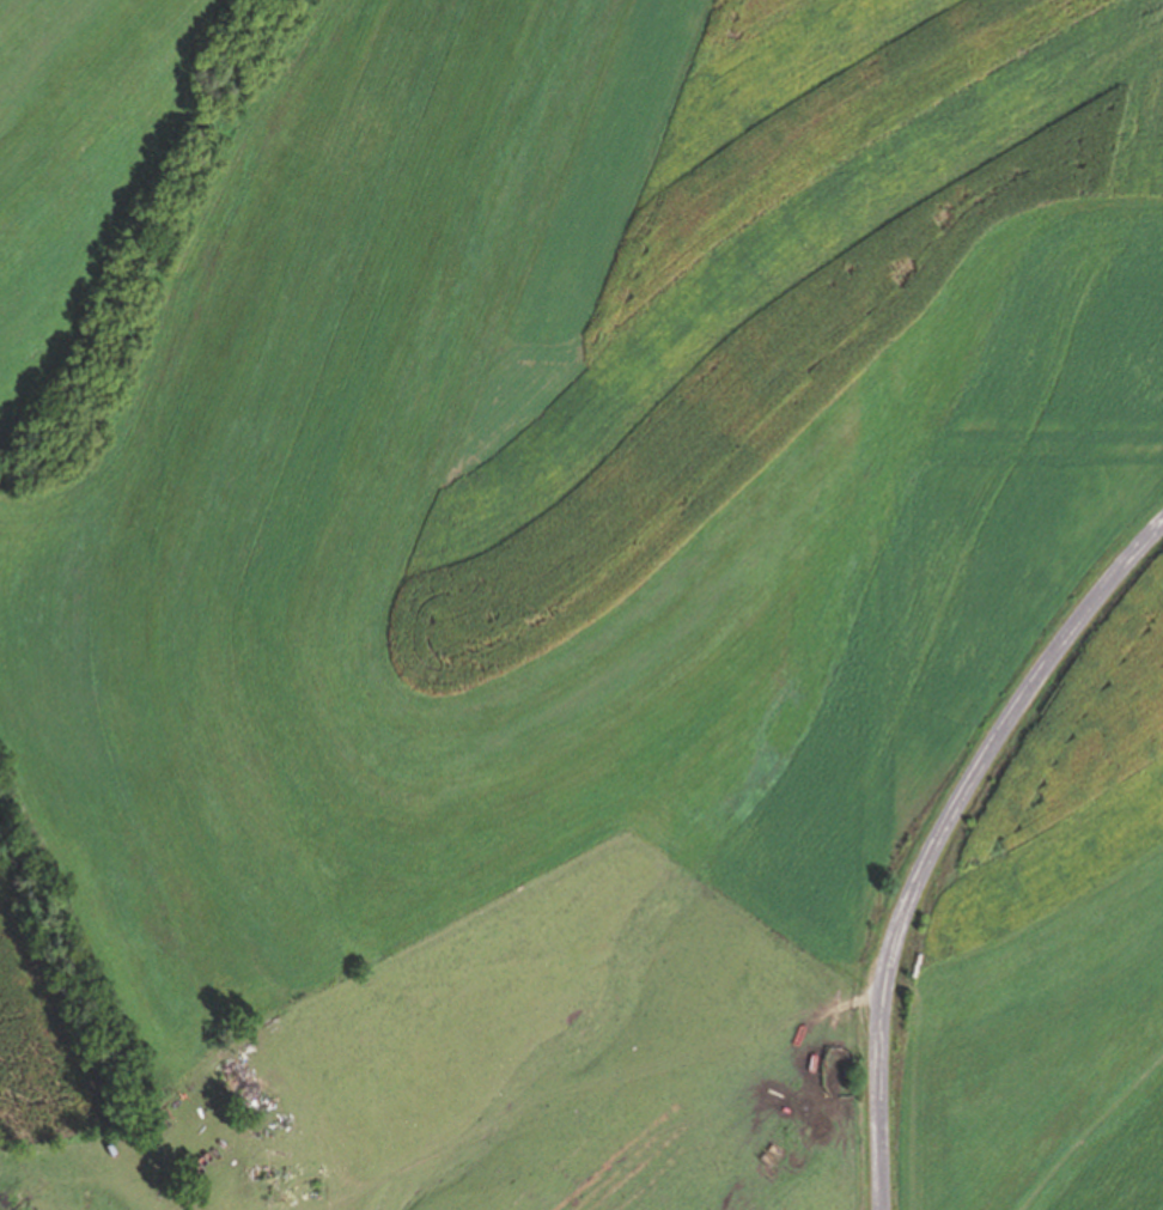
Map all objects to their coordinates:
road: (936, 831)

